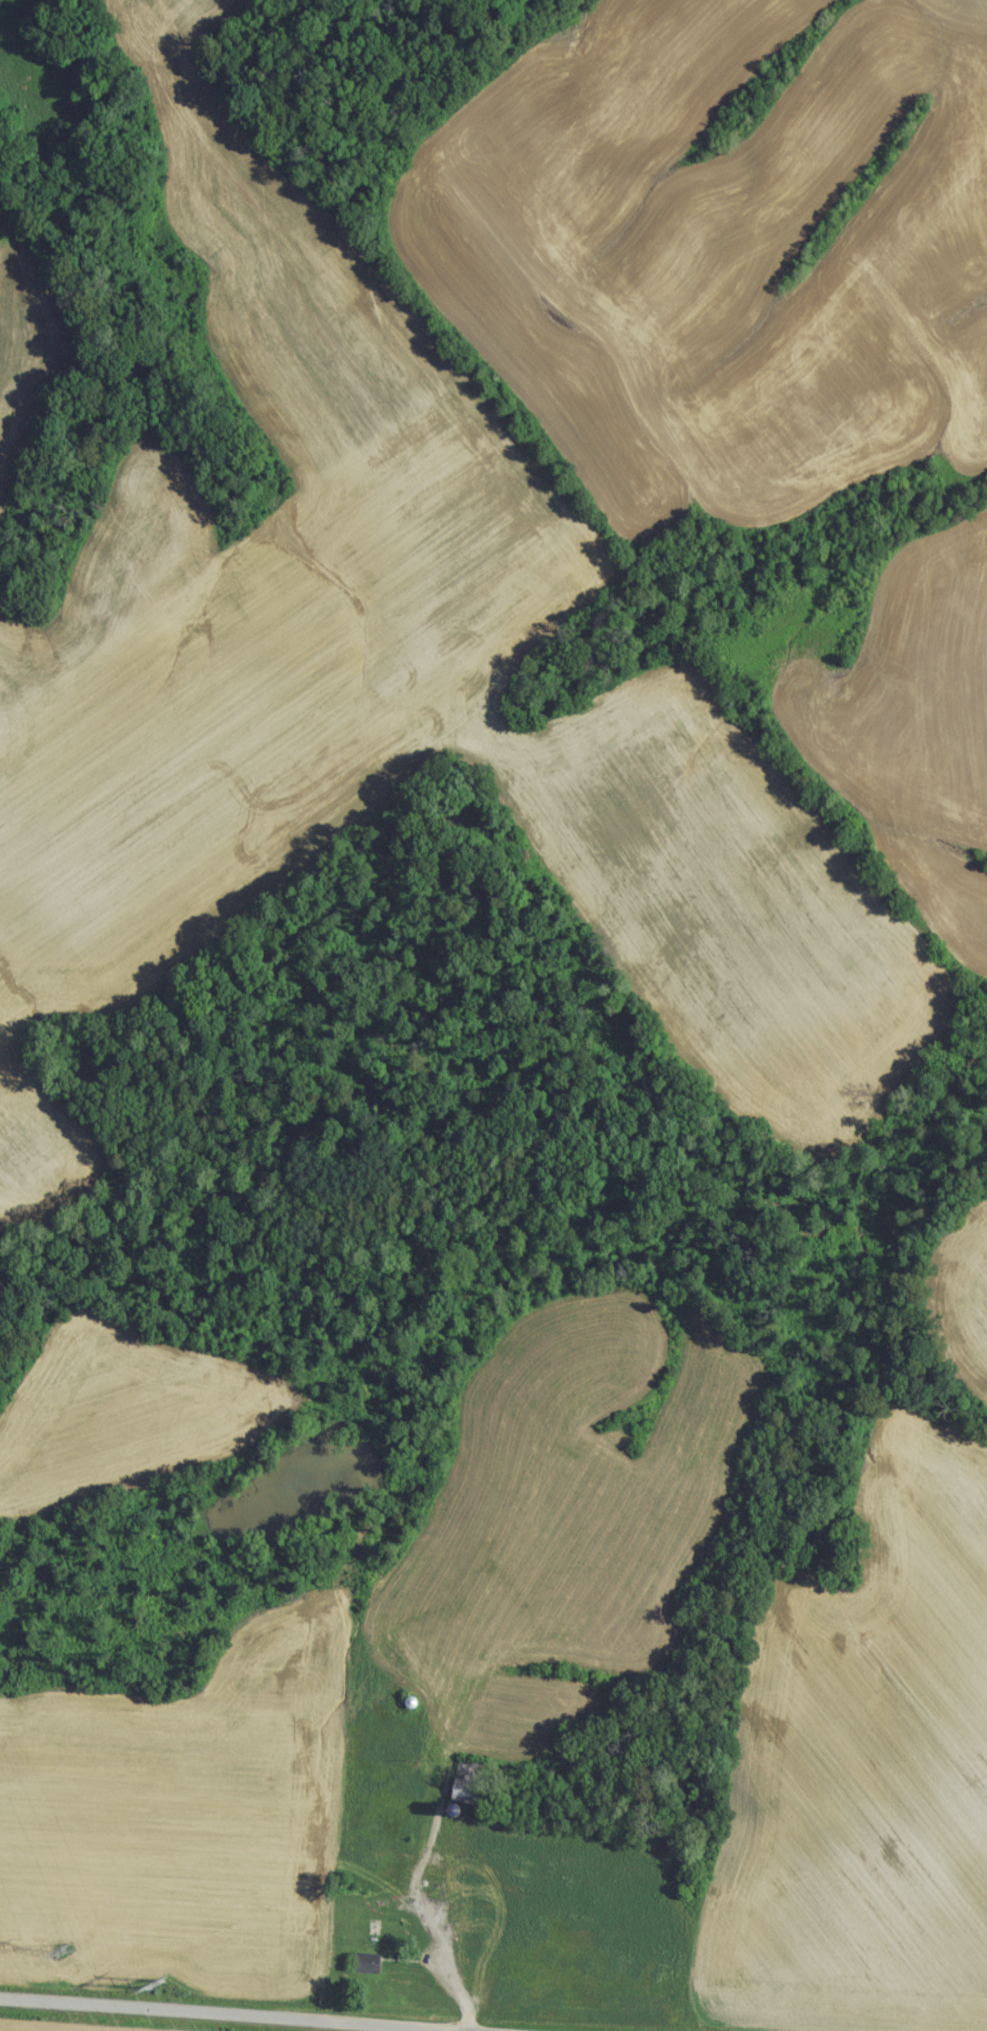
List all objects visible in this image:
power tower: (59, 1957)
building: (362, 1970)
power tower: (150, 1992)
road: (251, 2012)

